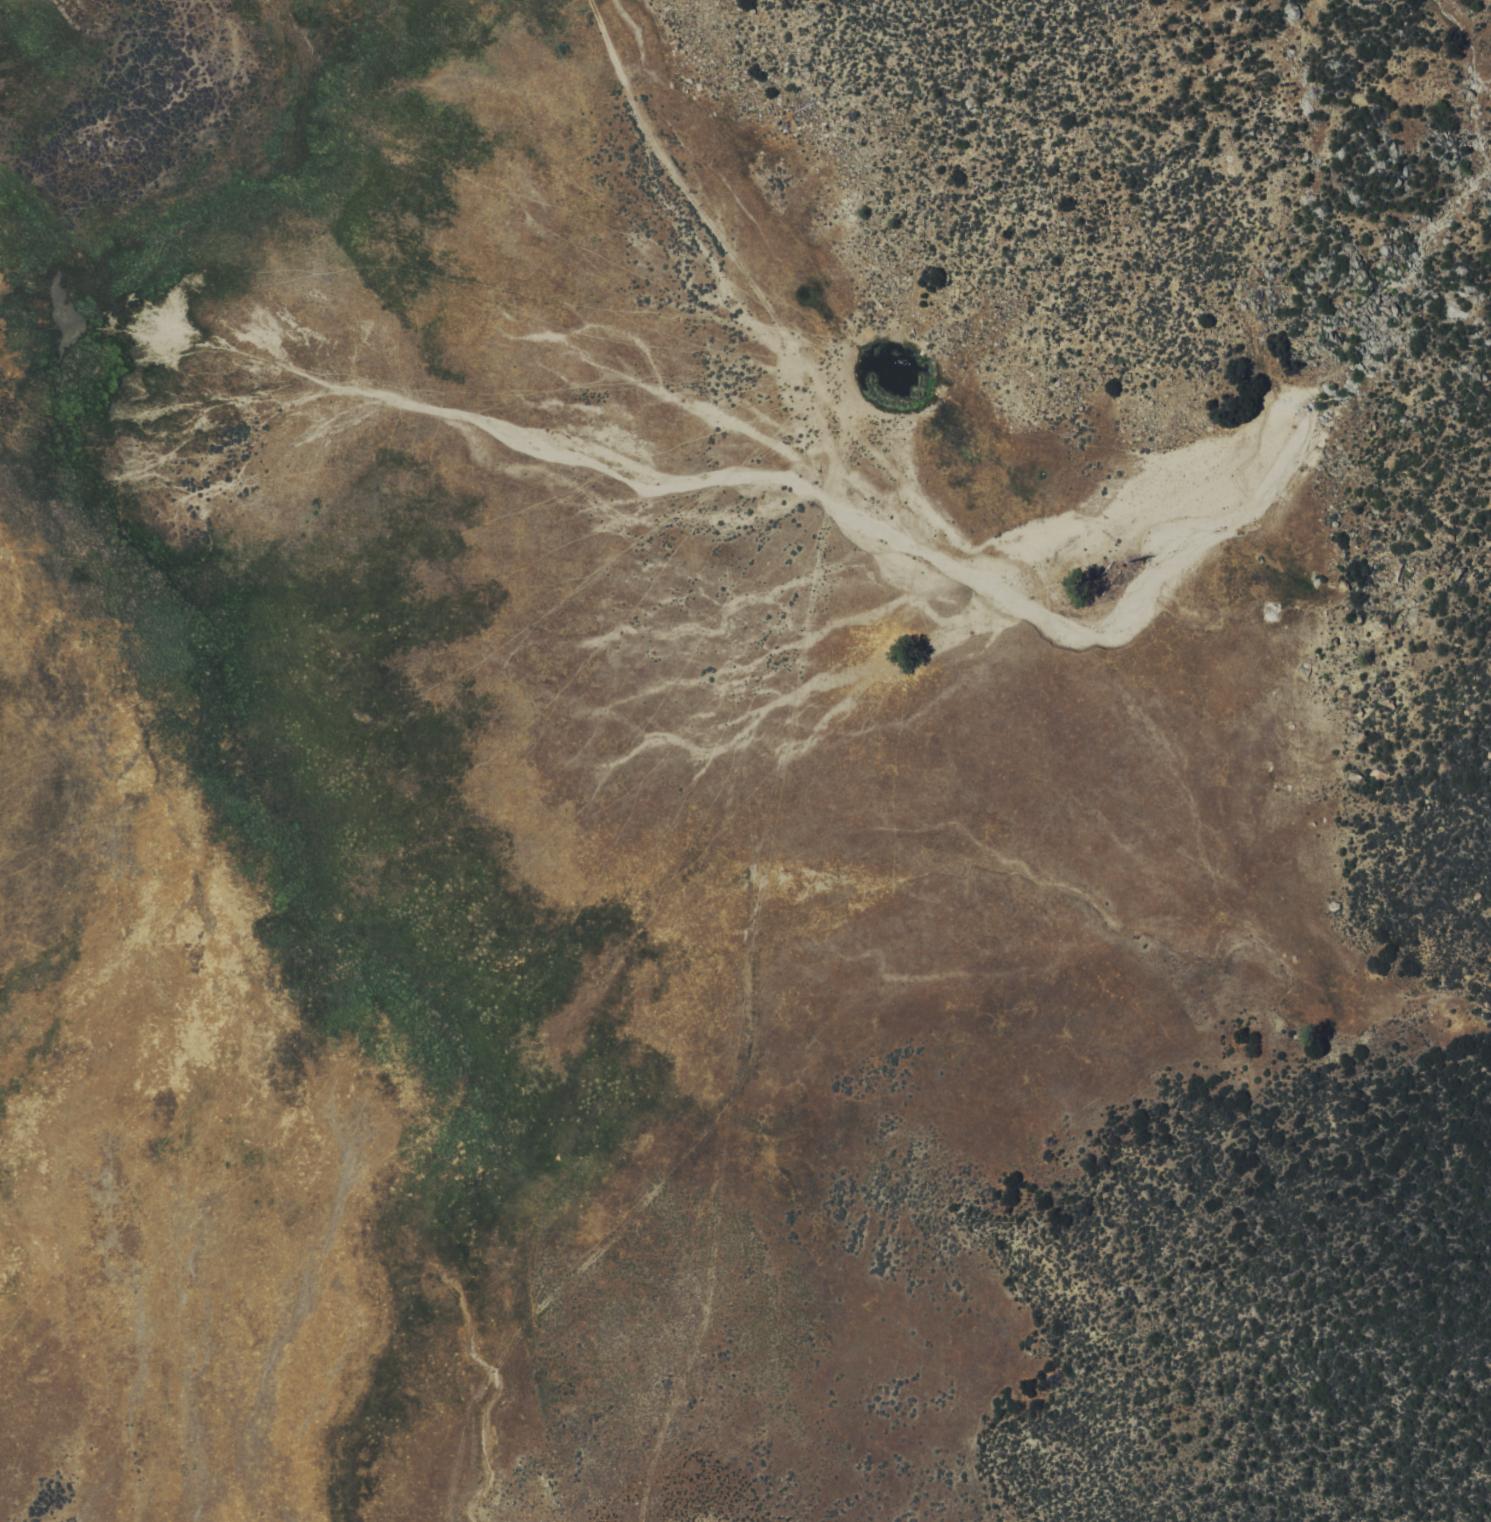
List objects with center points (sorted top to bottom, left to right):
airport runway: (101, 20)

